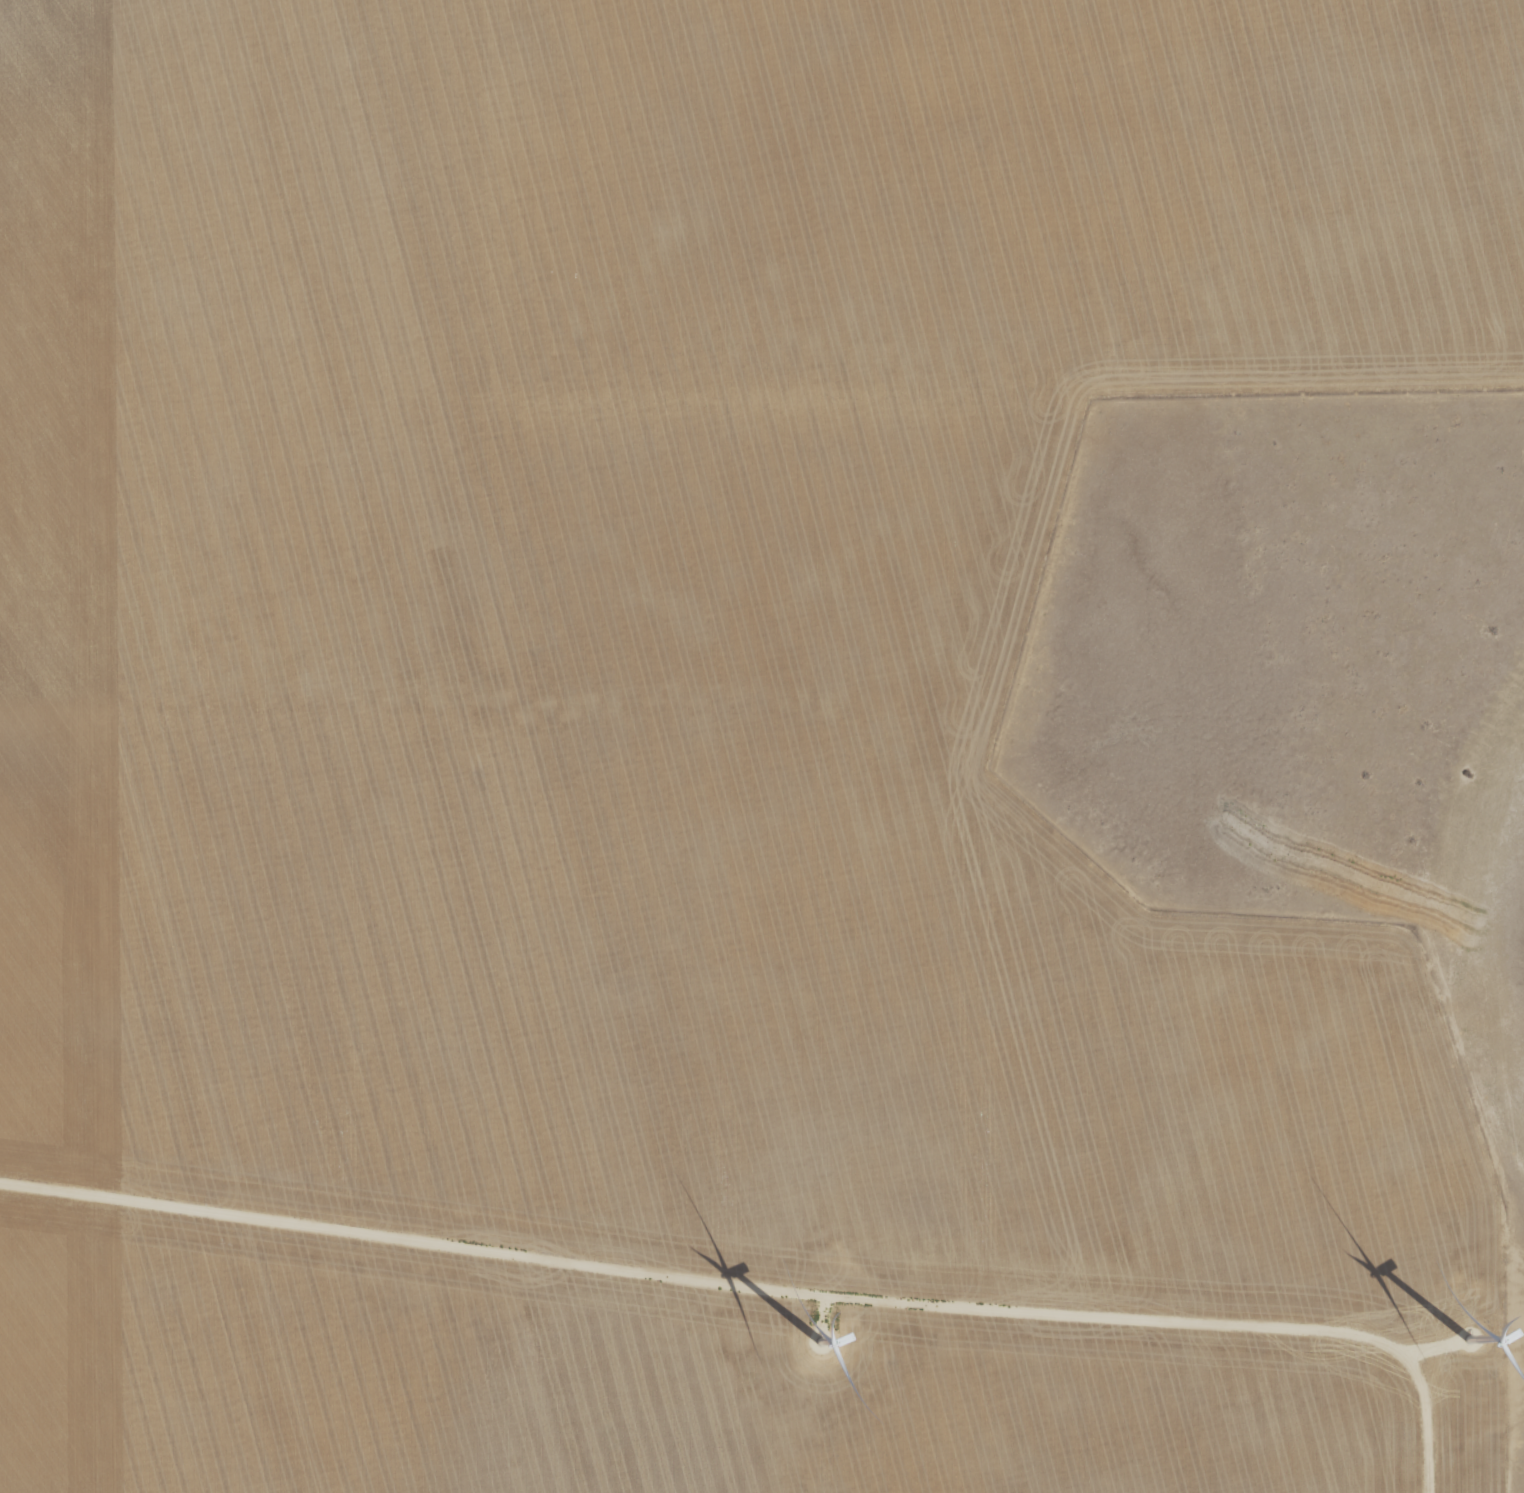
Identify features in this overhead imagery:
road: (776, 1287)
wind turbine: (1484, 1337)
wind turbine: (816, 1344)

